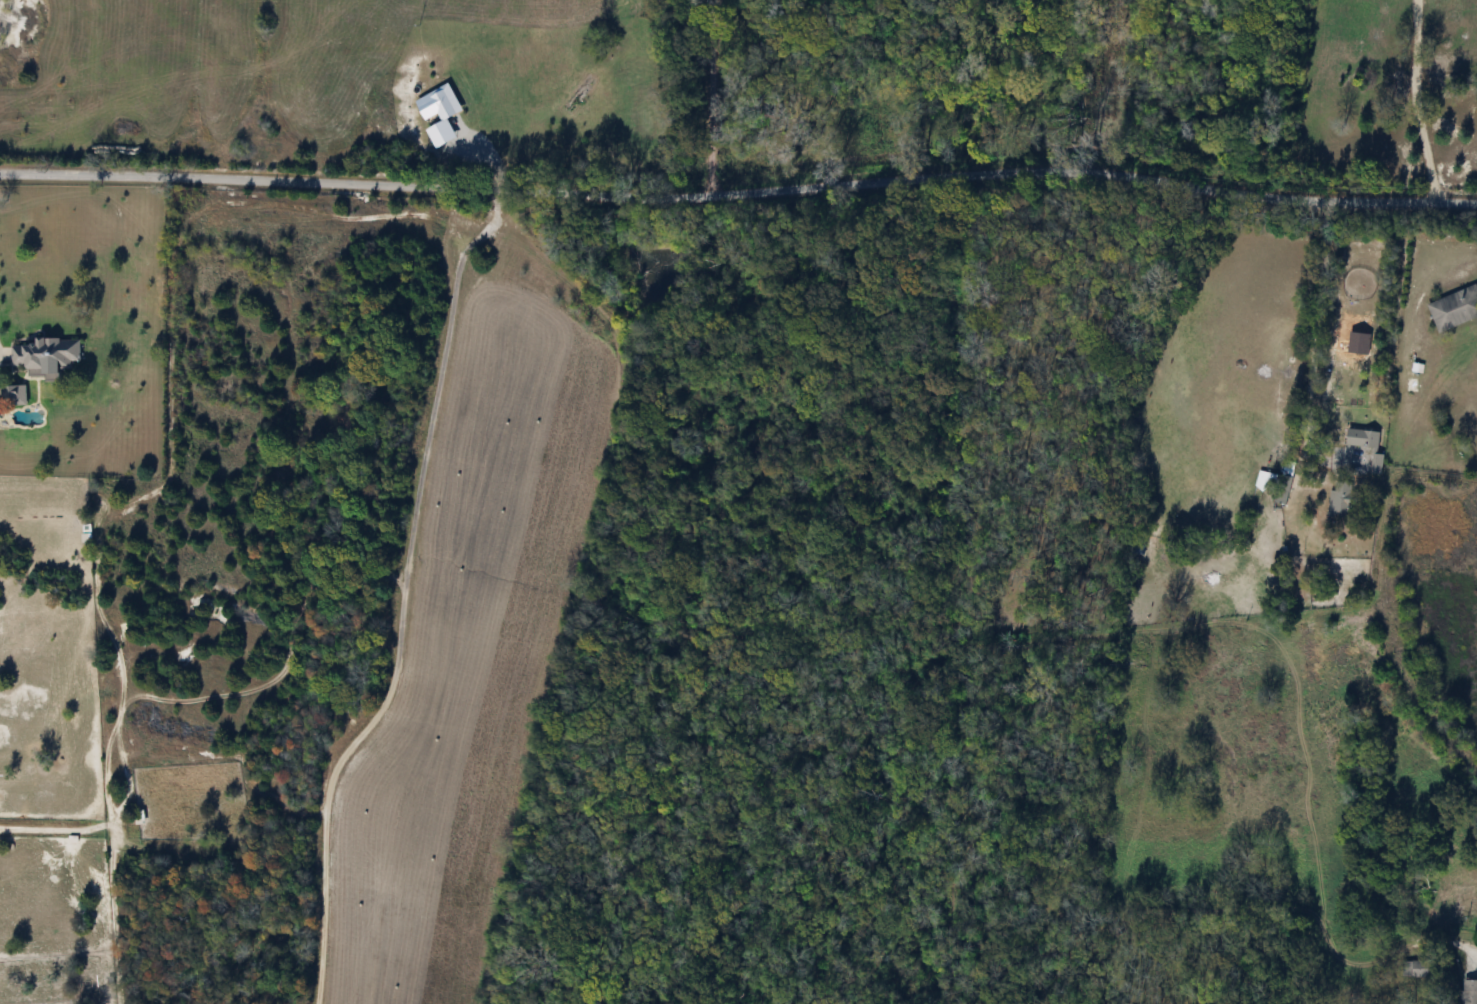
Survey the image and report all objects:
road: (701, 98)
building: (443, 101)
road: (1410, 101)
road: (739, 191)
building: (1453, 307)
road: (1312, 349)
building: (44, 354)
building: (13, 395)
building: (1360, 437)
building: (1375, 463)
building: (1264, 480)
building: (1339, 499)
road: (403, 600)
building: (1413, 968)
building: (1468, 991)

